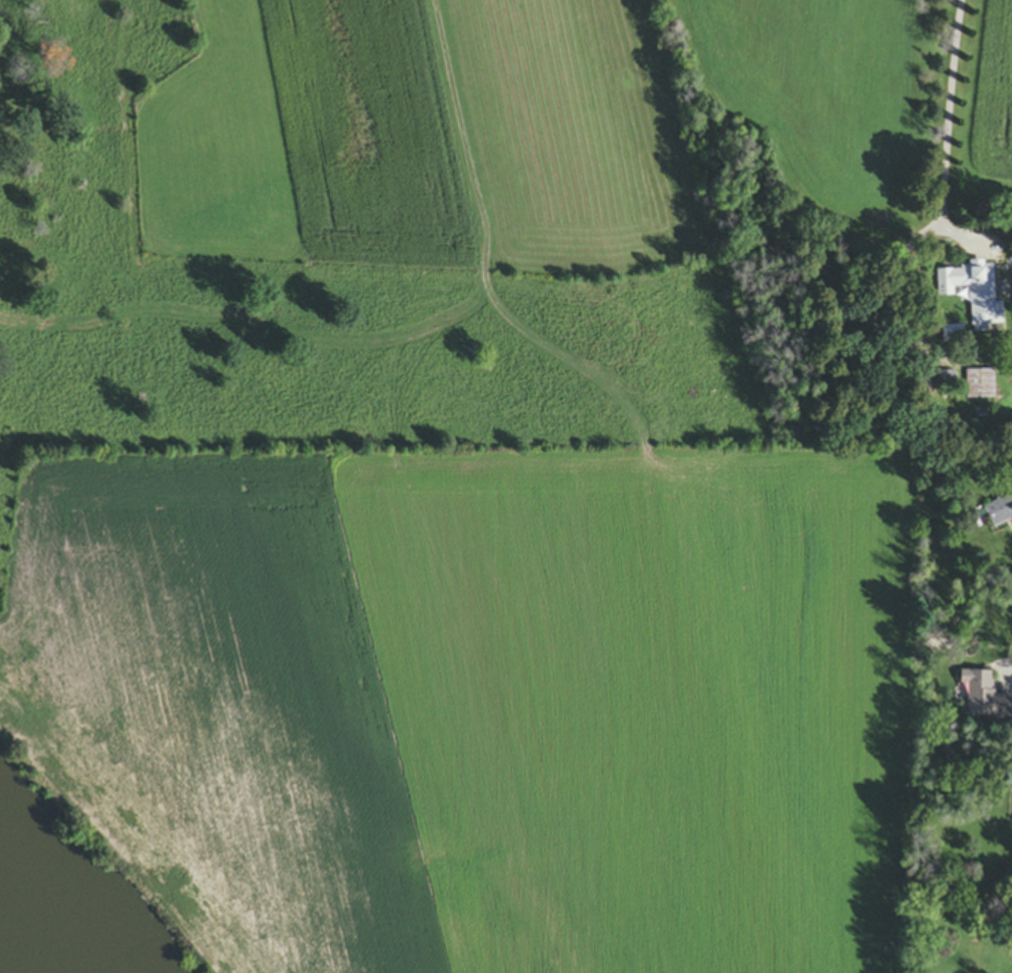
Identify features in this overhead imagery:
road: (950, 111)
building: (973, 292)
building: (981, 386)
building: (999, 511)
road: (1008, 664)
river: (32, 930)

